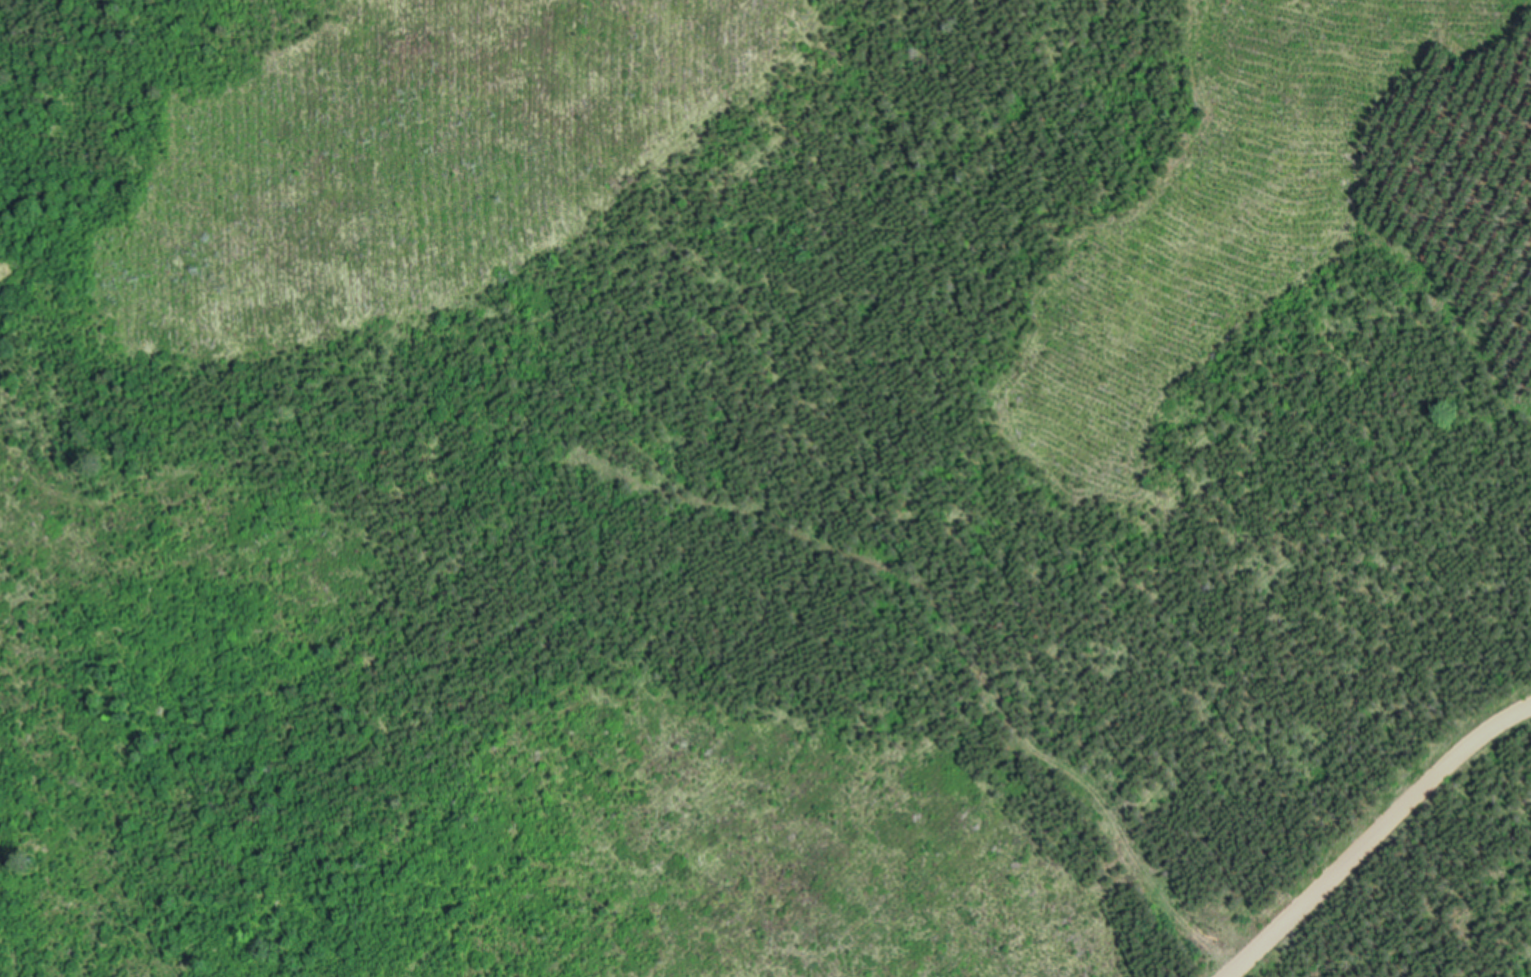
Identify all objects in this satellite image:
road: (1378, 837)

